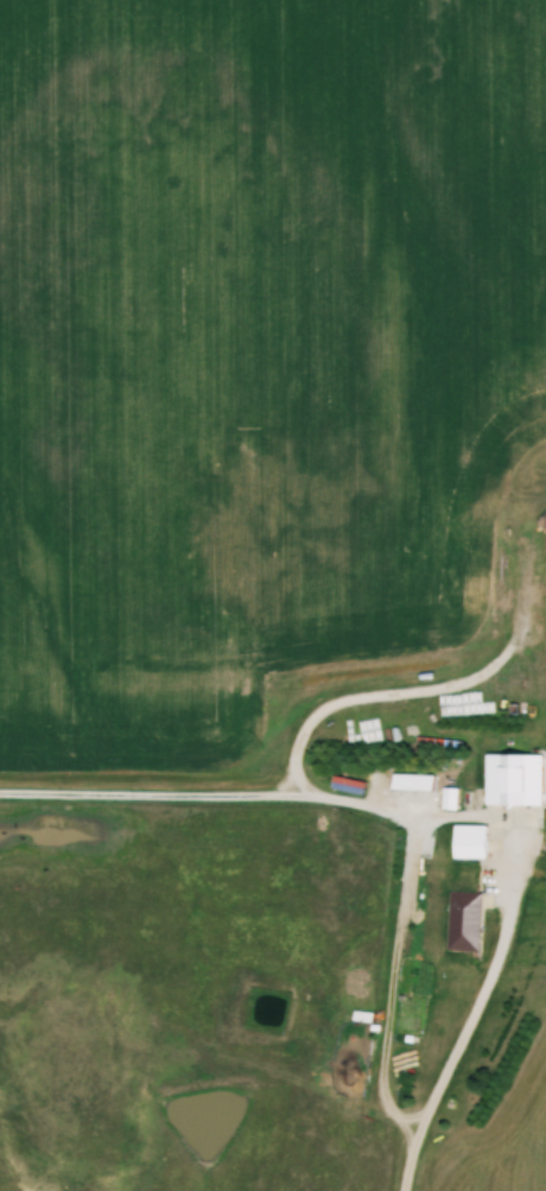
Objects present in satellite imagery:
building: (446, 797)
road: (447, 816)
building: (466, 841)
building: (462, 921)
road: (393, 981)
building: (360, 1012)

